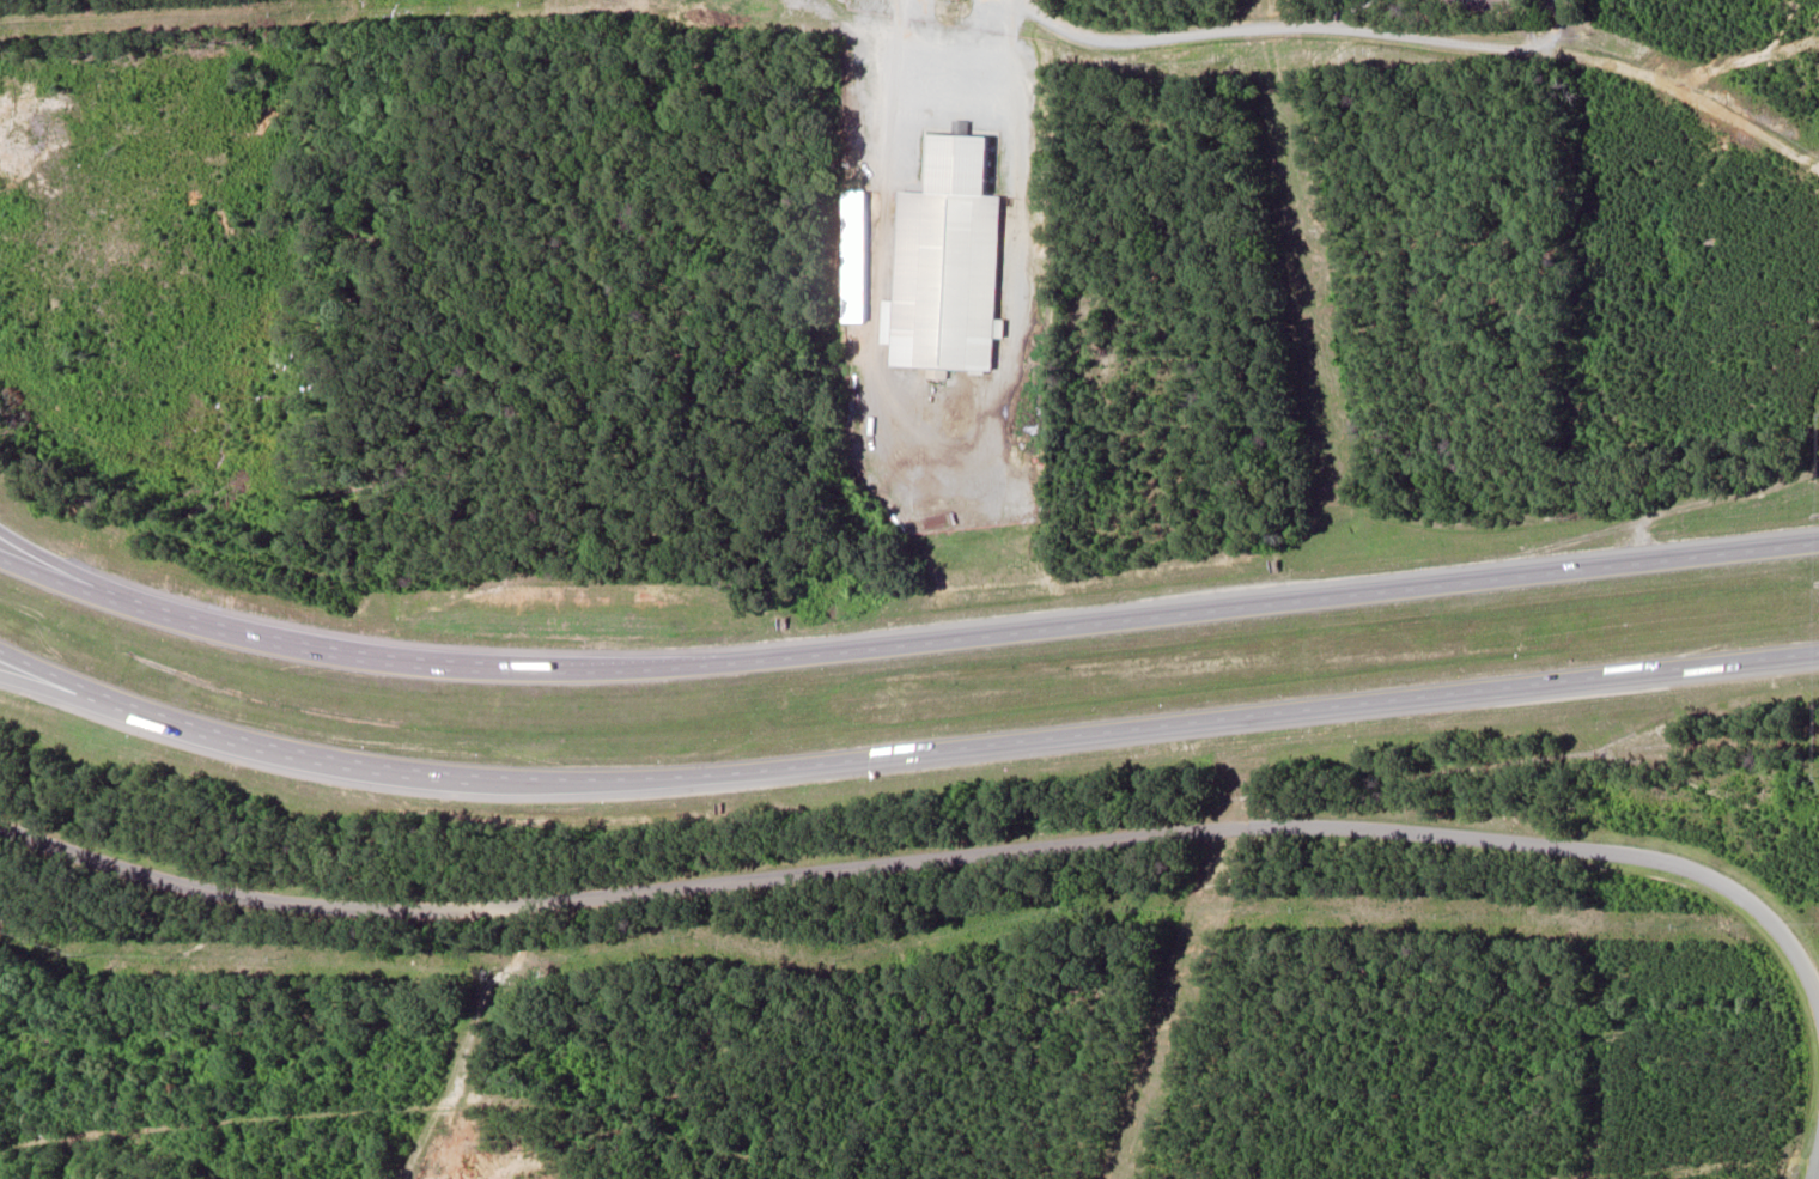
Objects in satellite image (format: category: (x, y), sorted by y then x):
road: (1416, 44)
road: (1814, 130)
building: (948, 263)
road: (62, 572)
road: (62, 587)
road: (971, 634)
road: (92, 685)
road: (92, 699)
road: (1000, 742)
road: (939, 858)
road: (509, 1045)
road: (1807, 1150)

